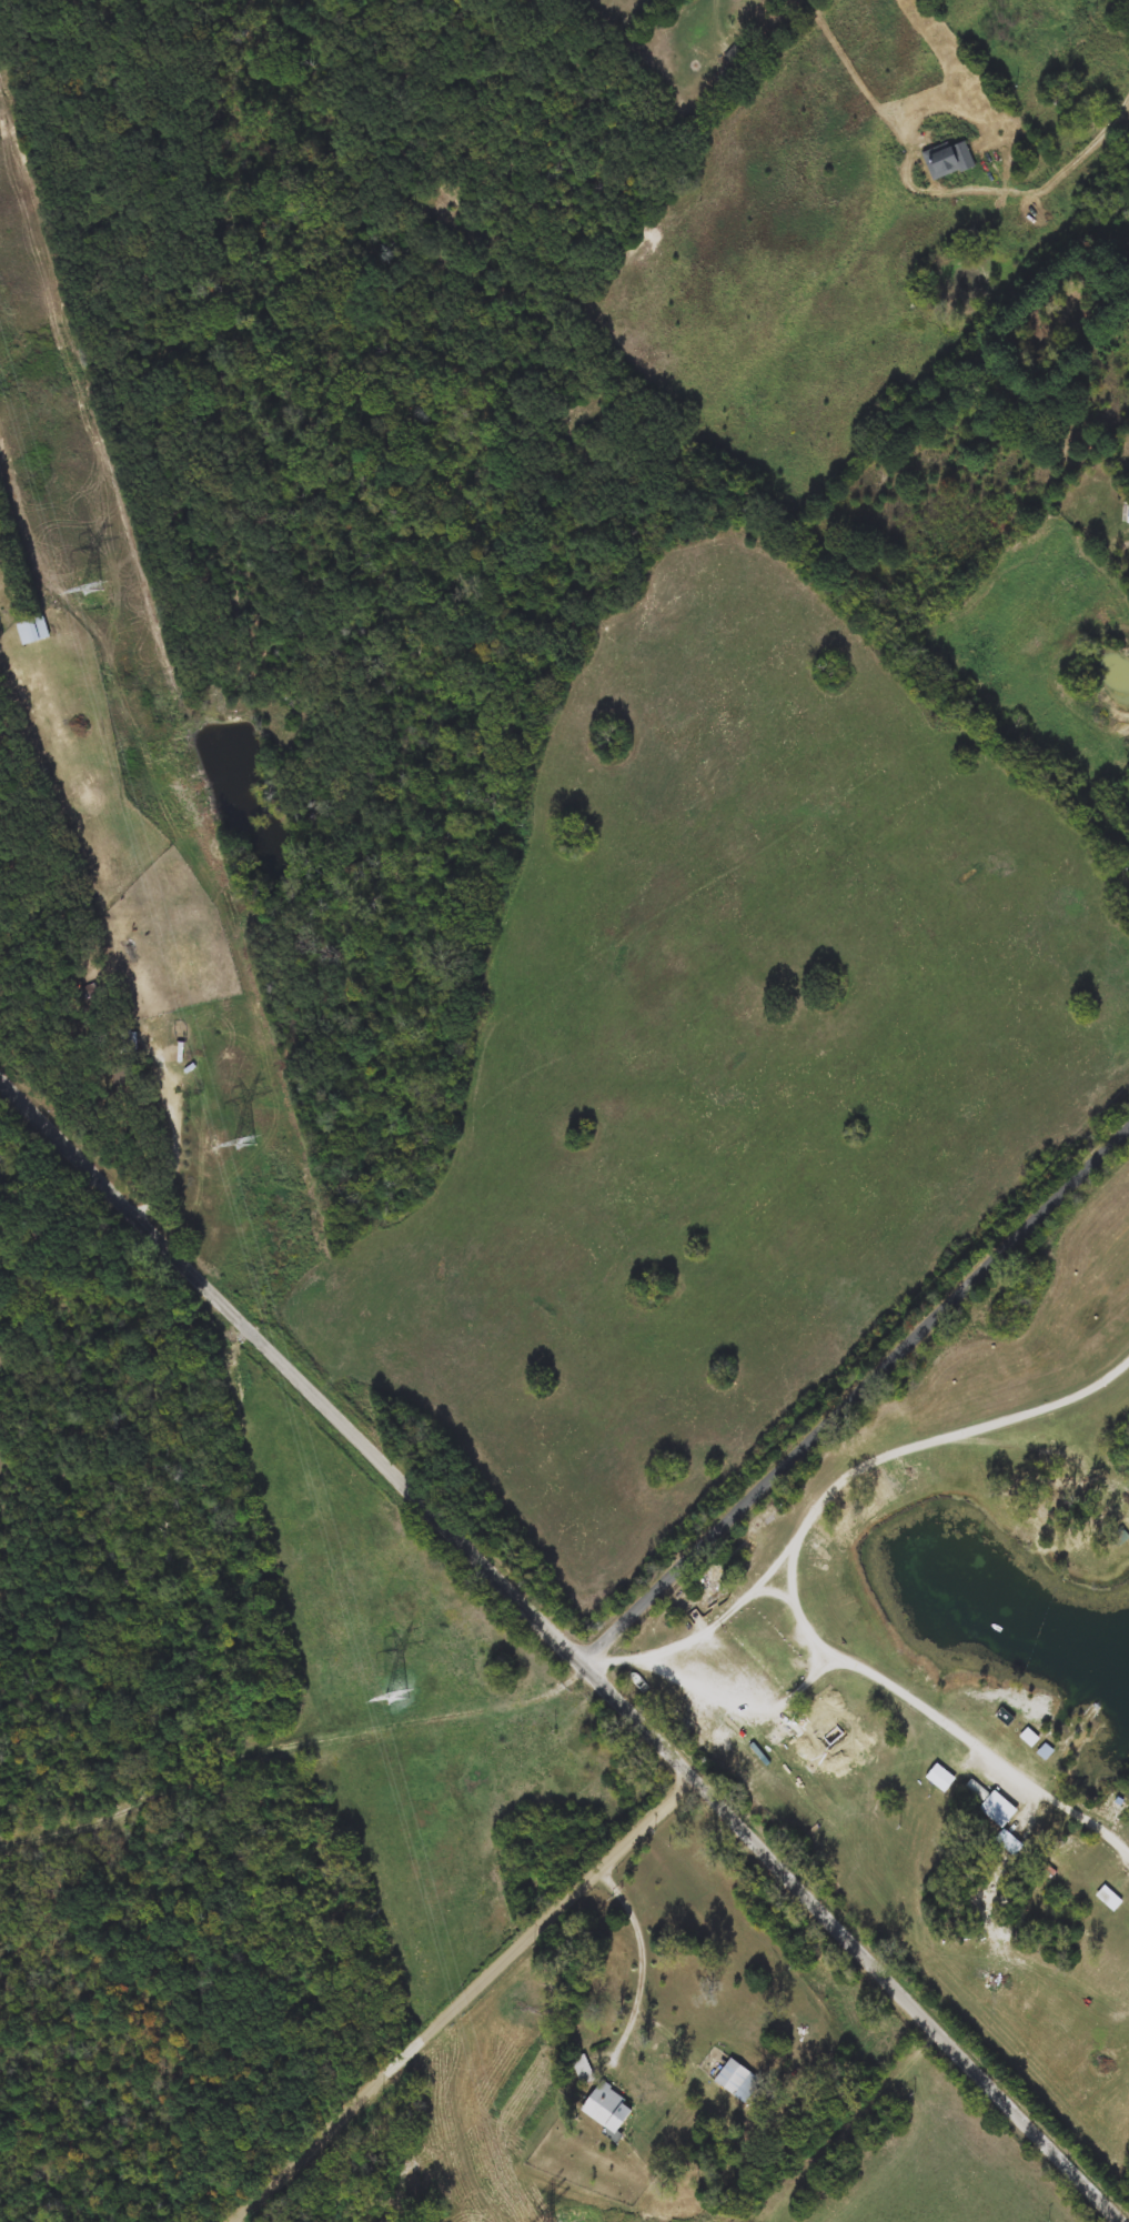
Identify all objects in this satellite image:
building: (734, 56)
road: (1108, 60)
road: (1125, 76)
building: (948, 160)
power tower: (91, 590)
building: (32, 631)
building: (125, 1039)
road: (174, 1134)
power tower: (246, 1144)
road: (855, 1392)
road: (898, 1454)
building: (1119, 1538)
road: (567, 1646)
road: (656, 1653)
road: (897, 1691)
power tower: (395, 1697)
road: (423, 1718)
building: (797, 1723)
building: (1028, 1738)
building: (939, 1778)
building: (997, 1809)
building: (1107, 1898)
road: (463, 1998)
road: (635, 2001)
building: (582, 2068)
building: (738, 2081)
building: (607, 2109)

